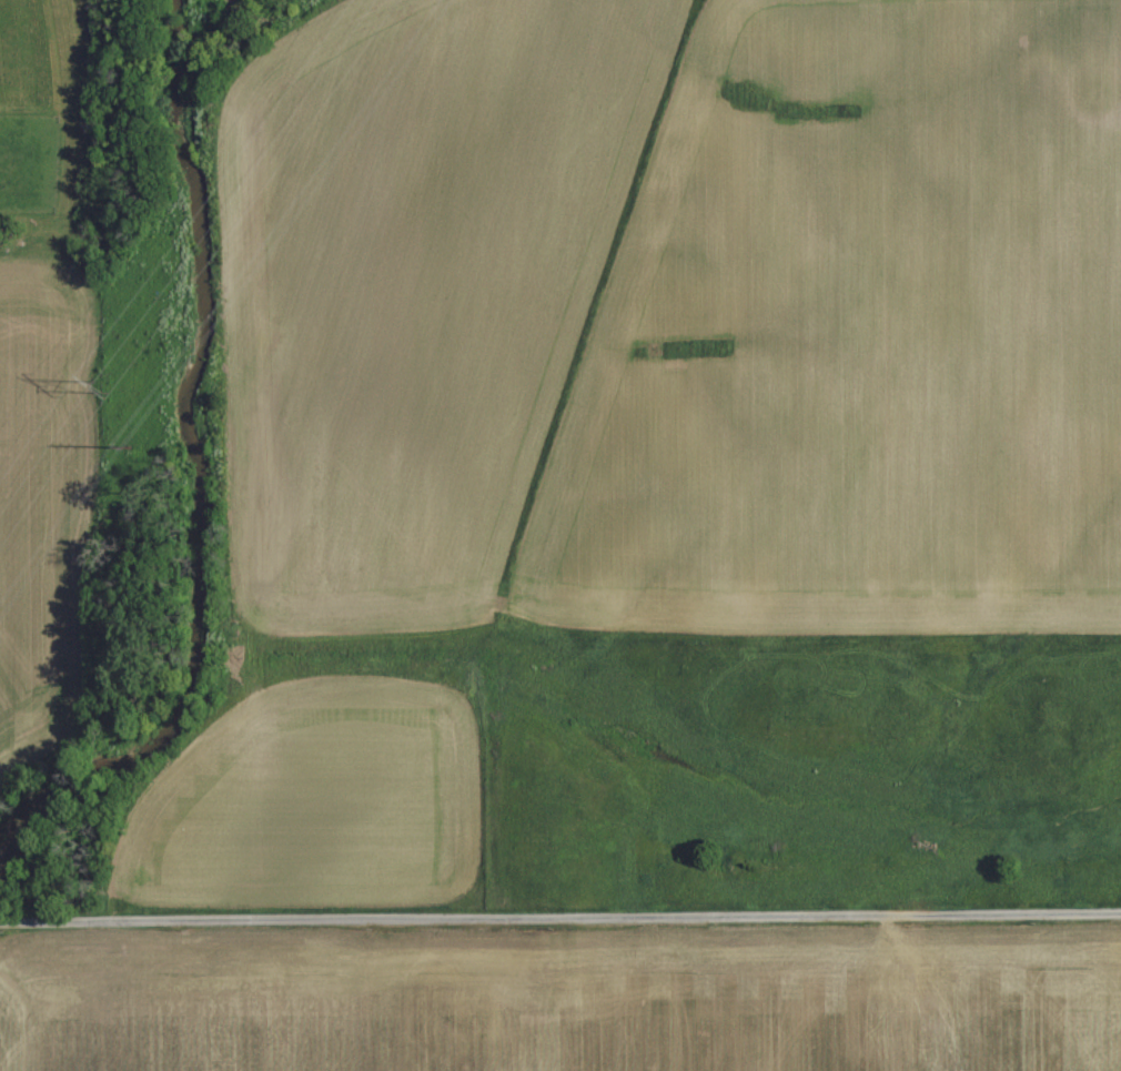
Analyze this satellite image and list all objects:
power tower: (97, 382)
road: (560, 916)

